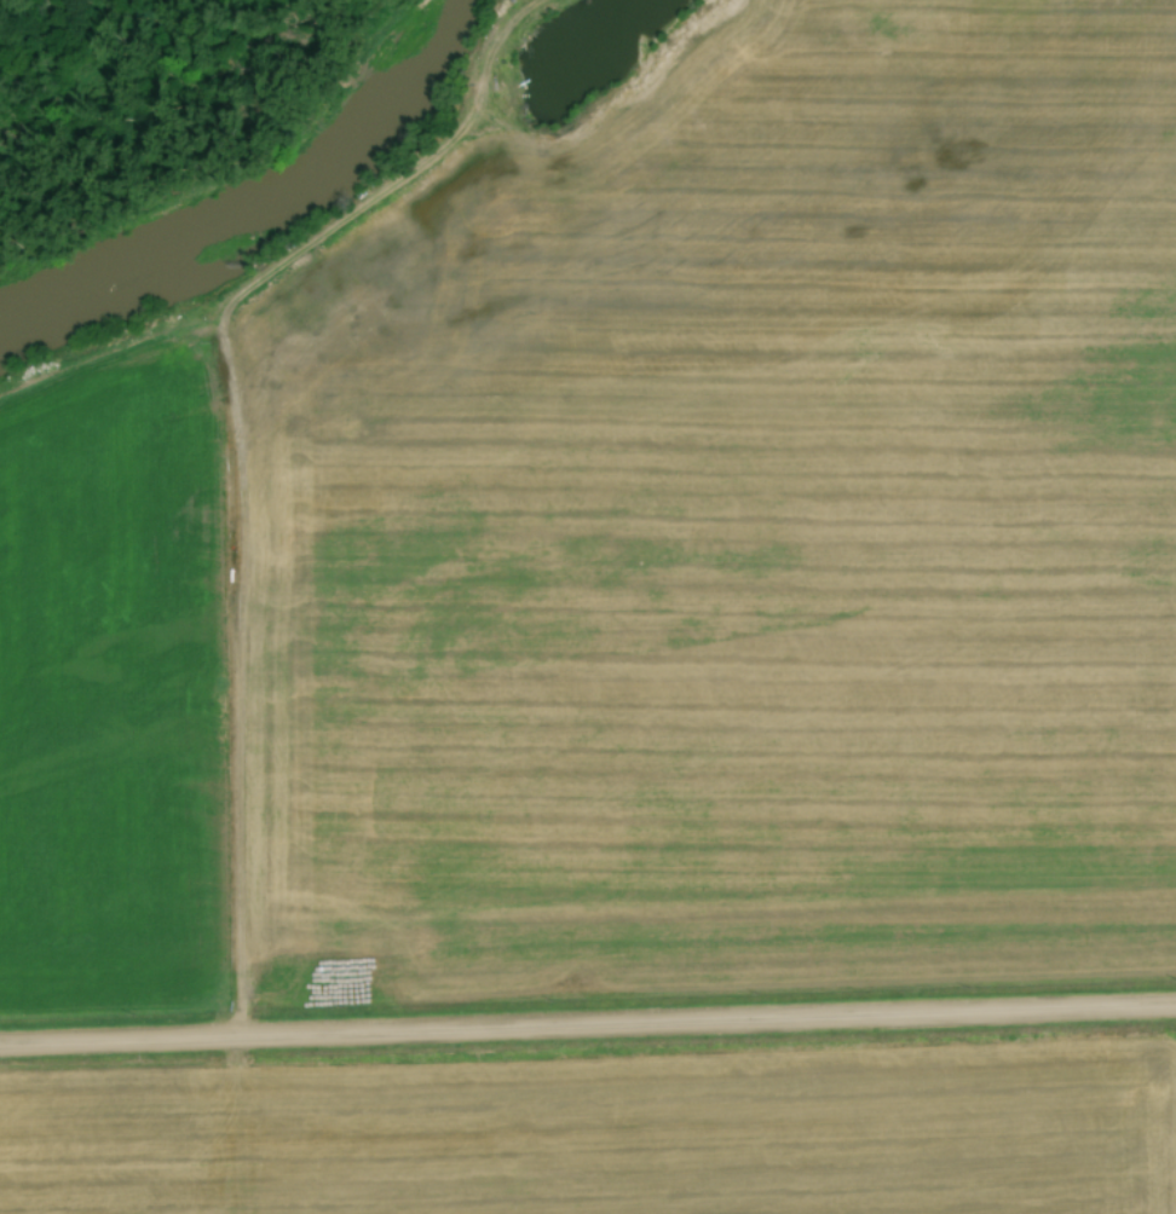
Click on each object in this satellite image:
river: (259, 200)
crop: (636, 553)
road: (588, 1027)

